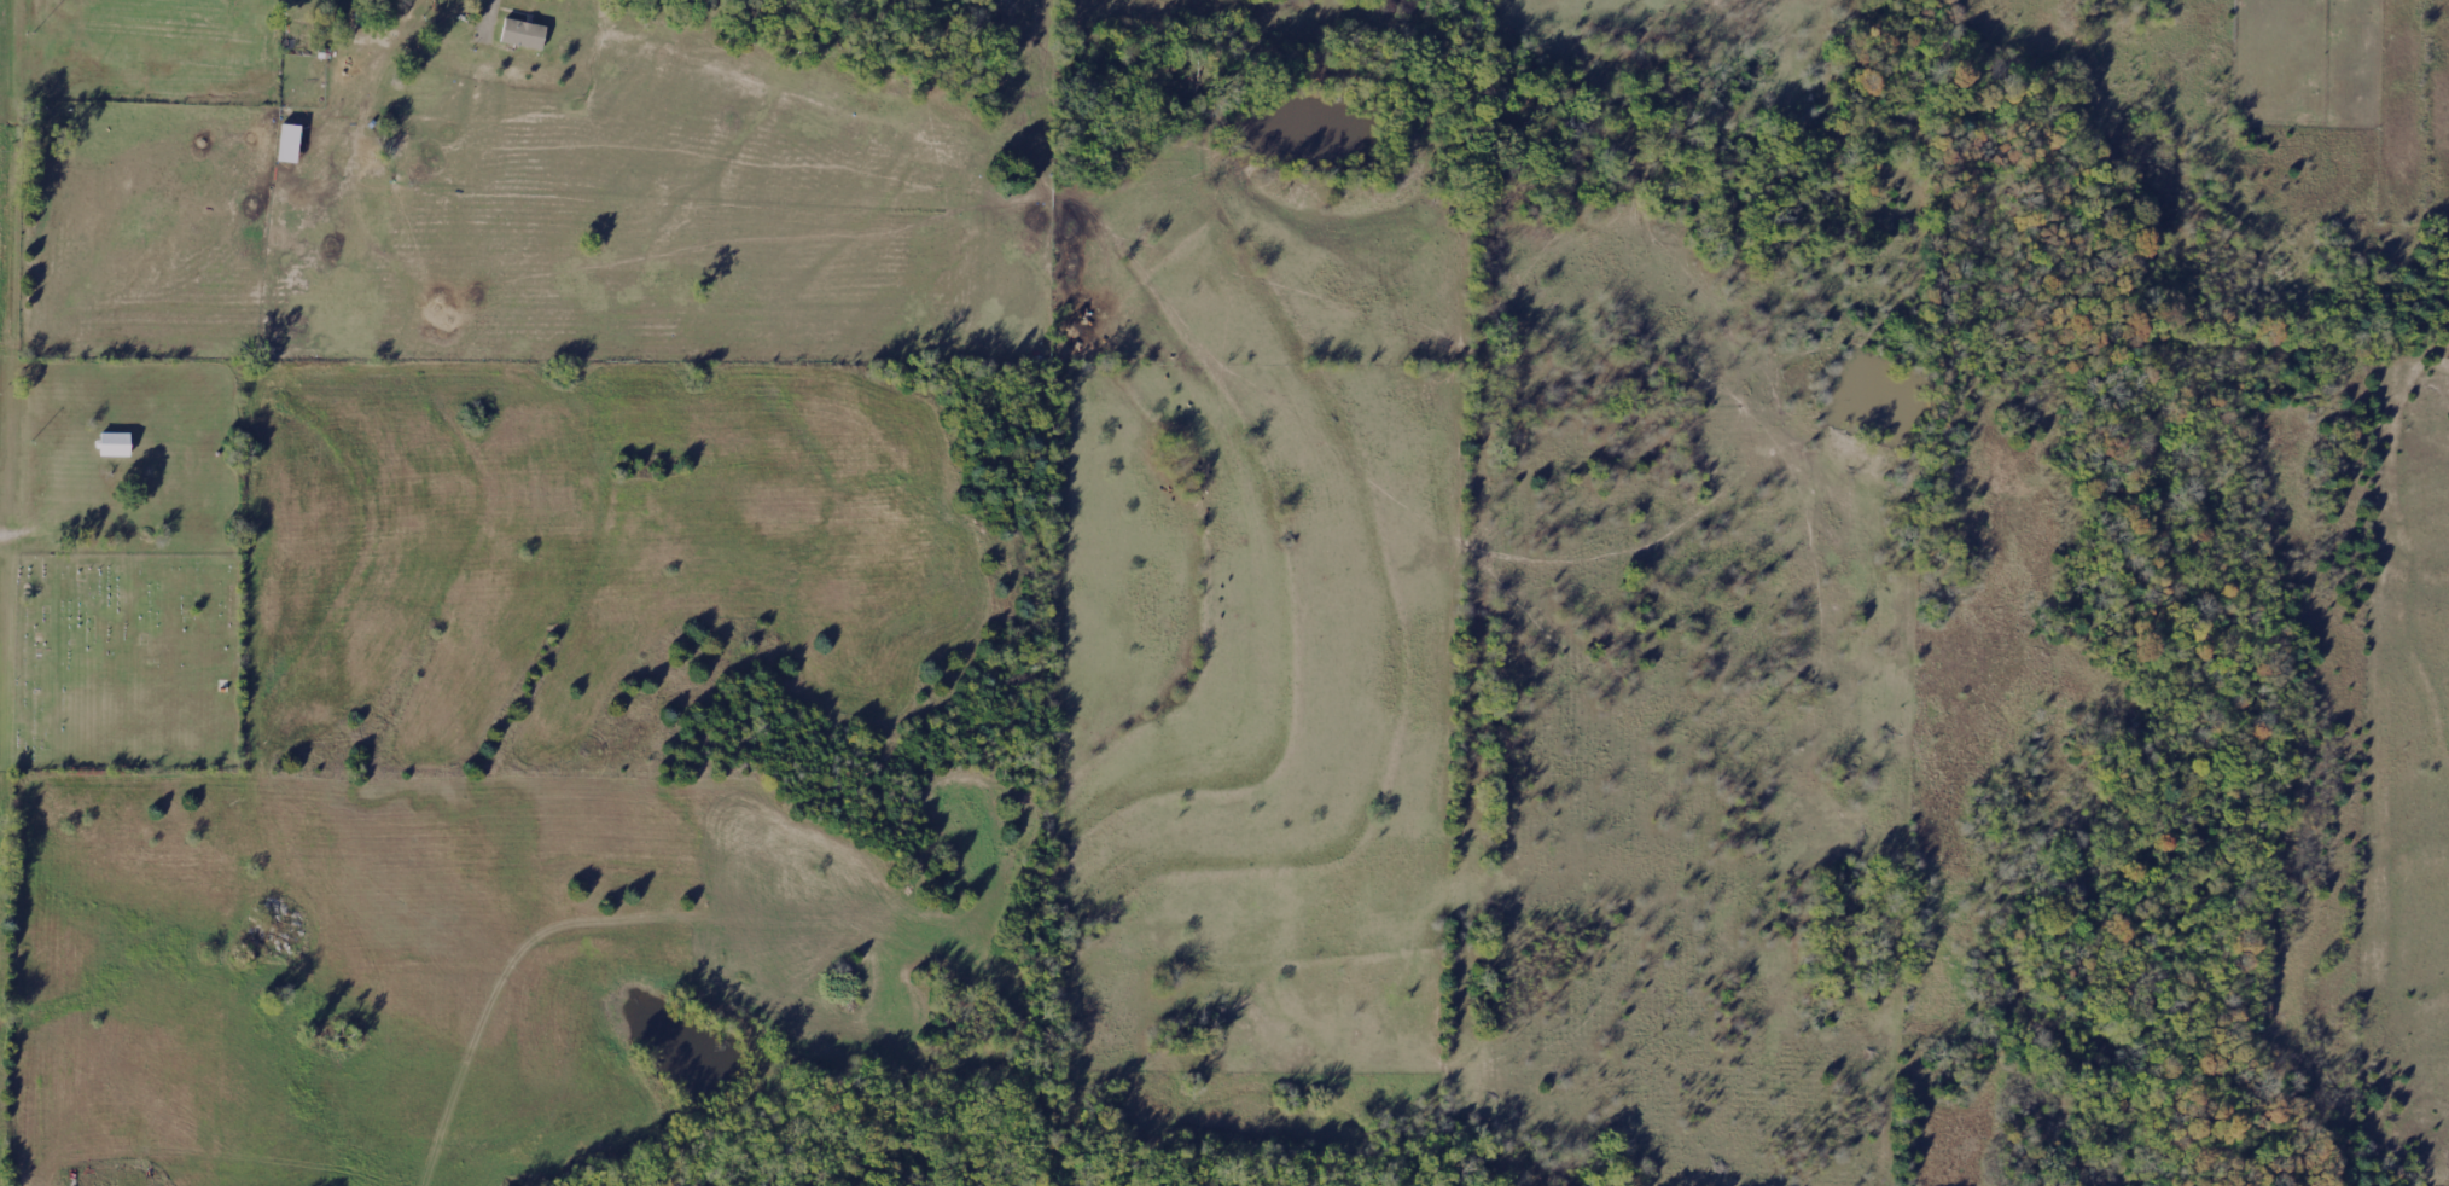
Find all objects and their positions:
road: (491, 14)
building: (75, 24)
building: (518, 39)
building: (116, 446)
road: (54, 505)
park: (121, 665)

